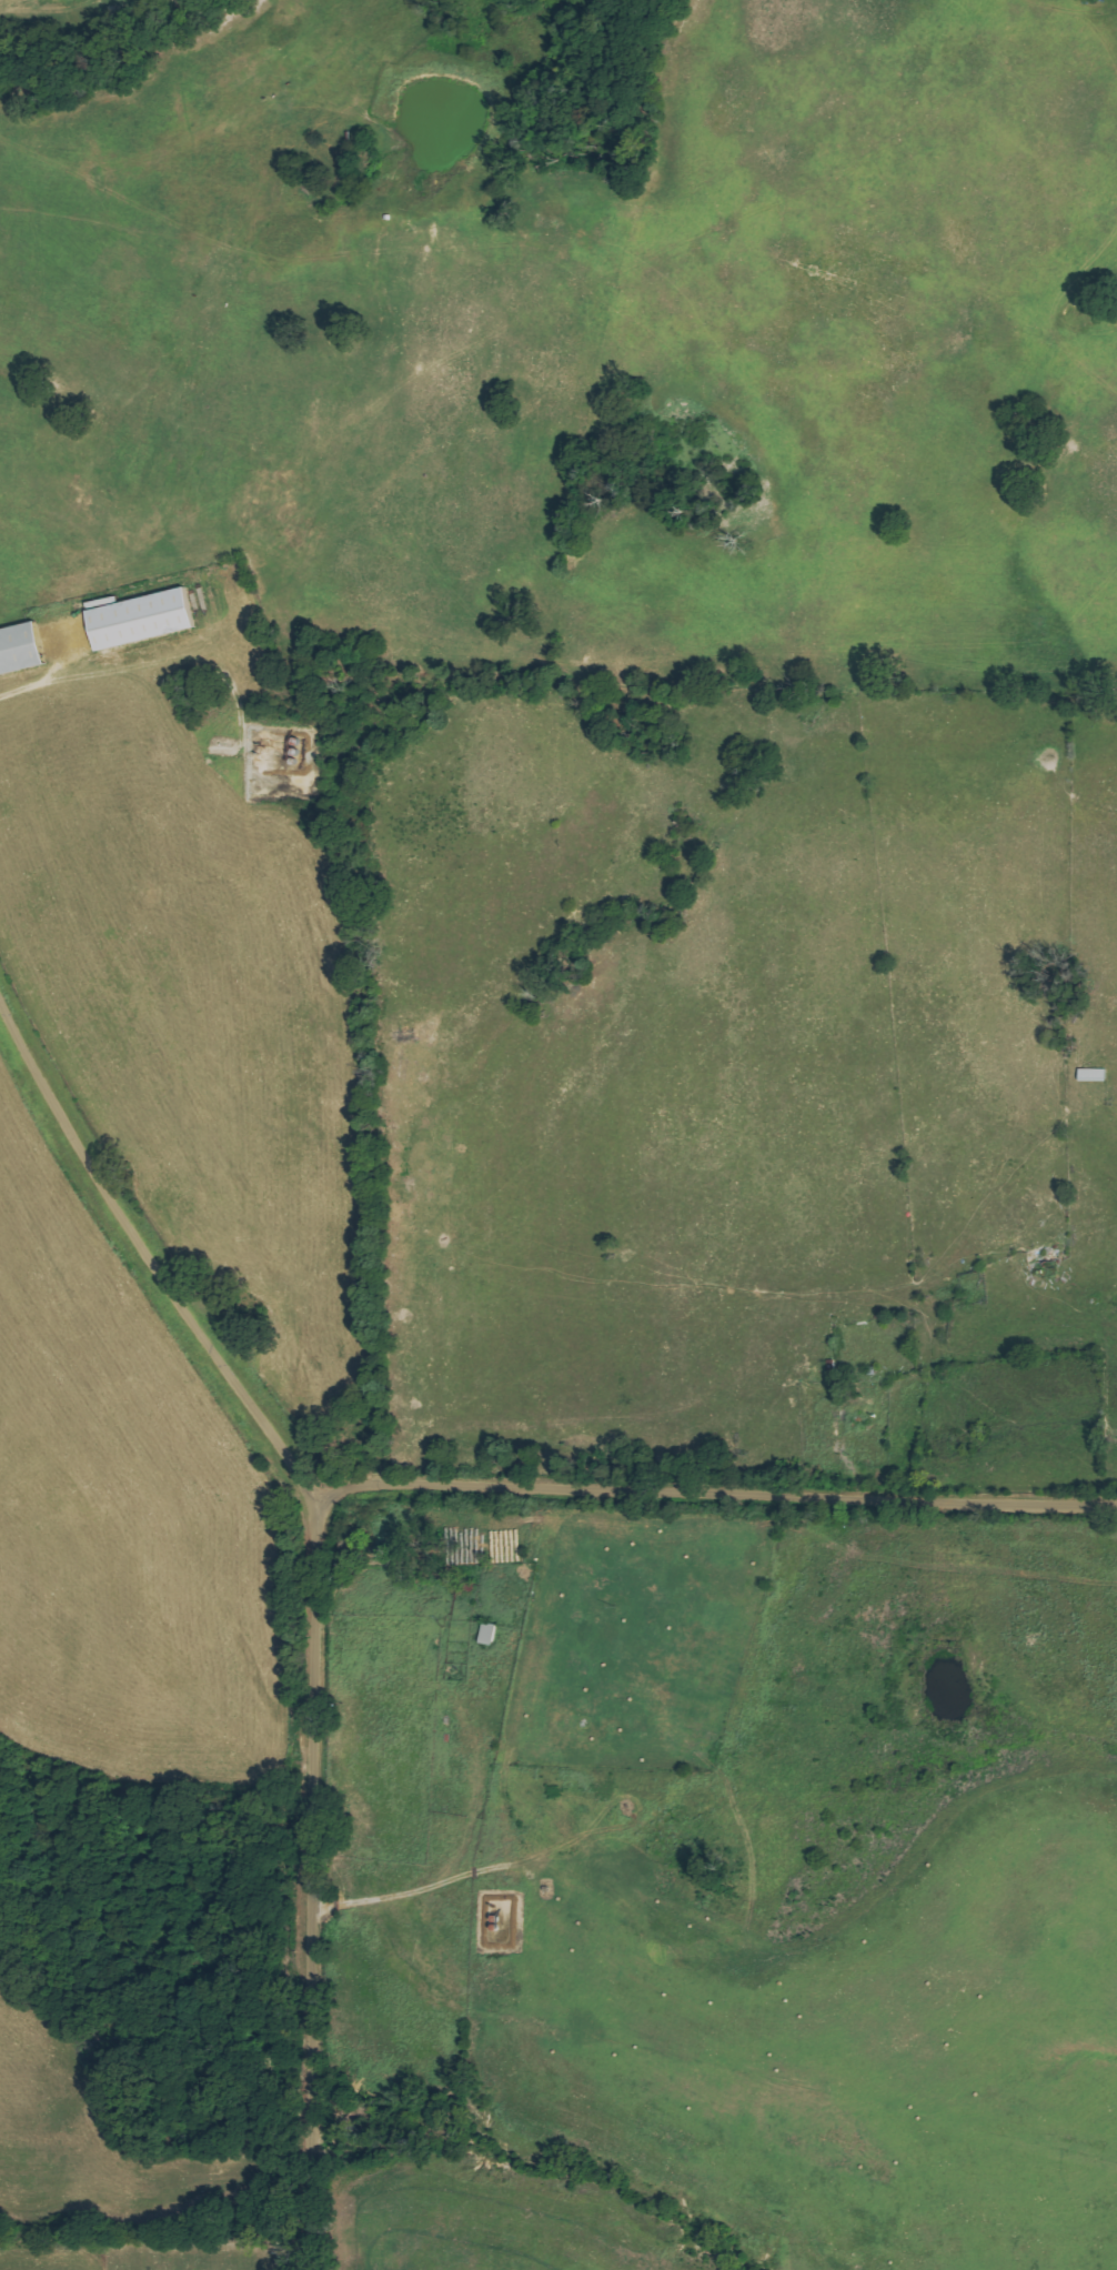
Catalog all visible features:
building: (141, 617)
building: (21, 649)
road: (712, 1493)
road: (311, 1591)
building: (489, 1634)

